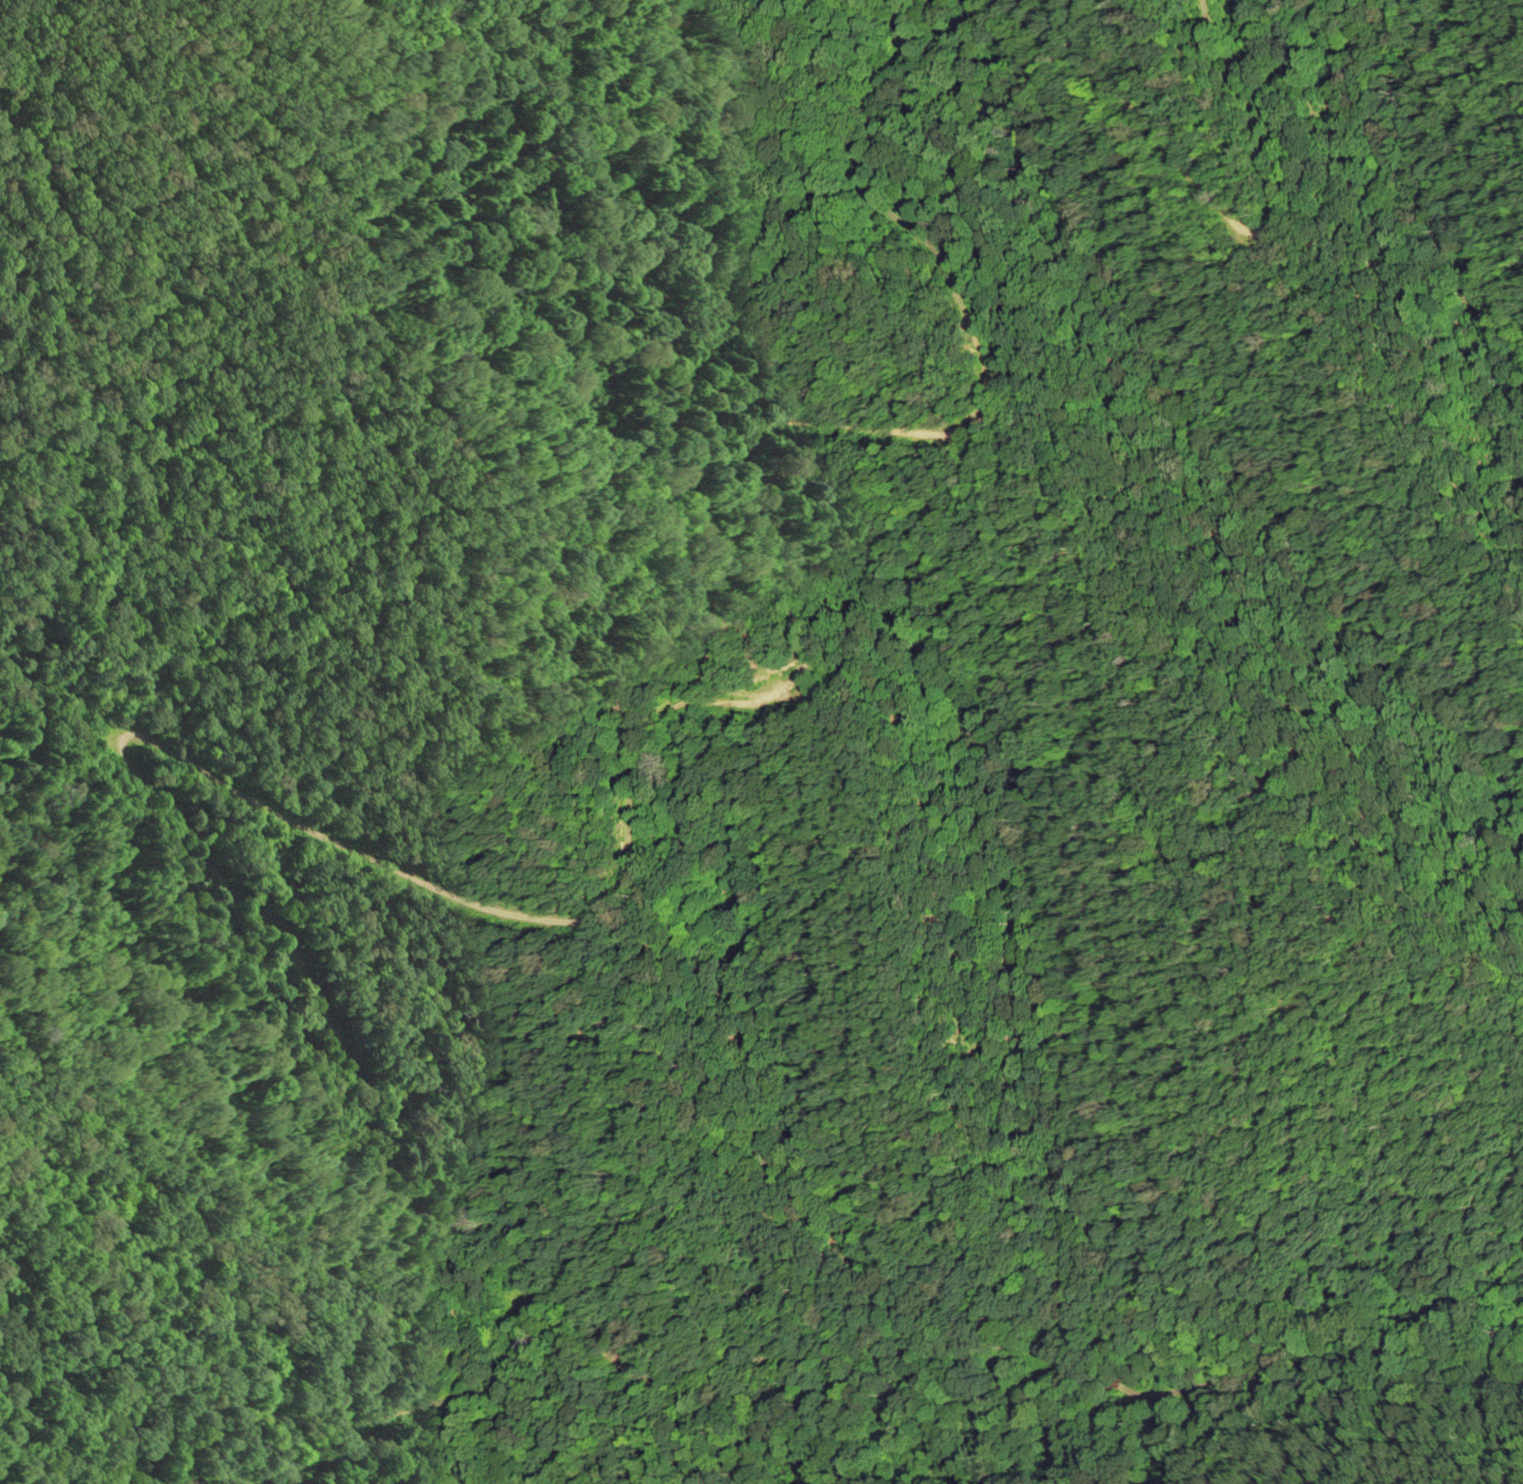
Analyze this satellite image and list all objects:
road: (867, 1327)

